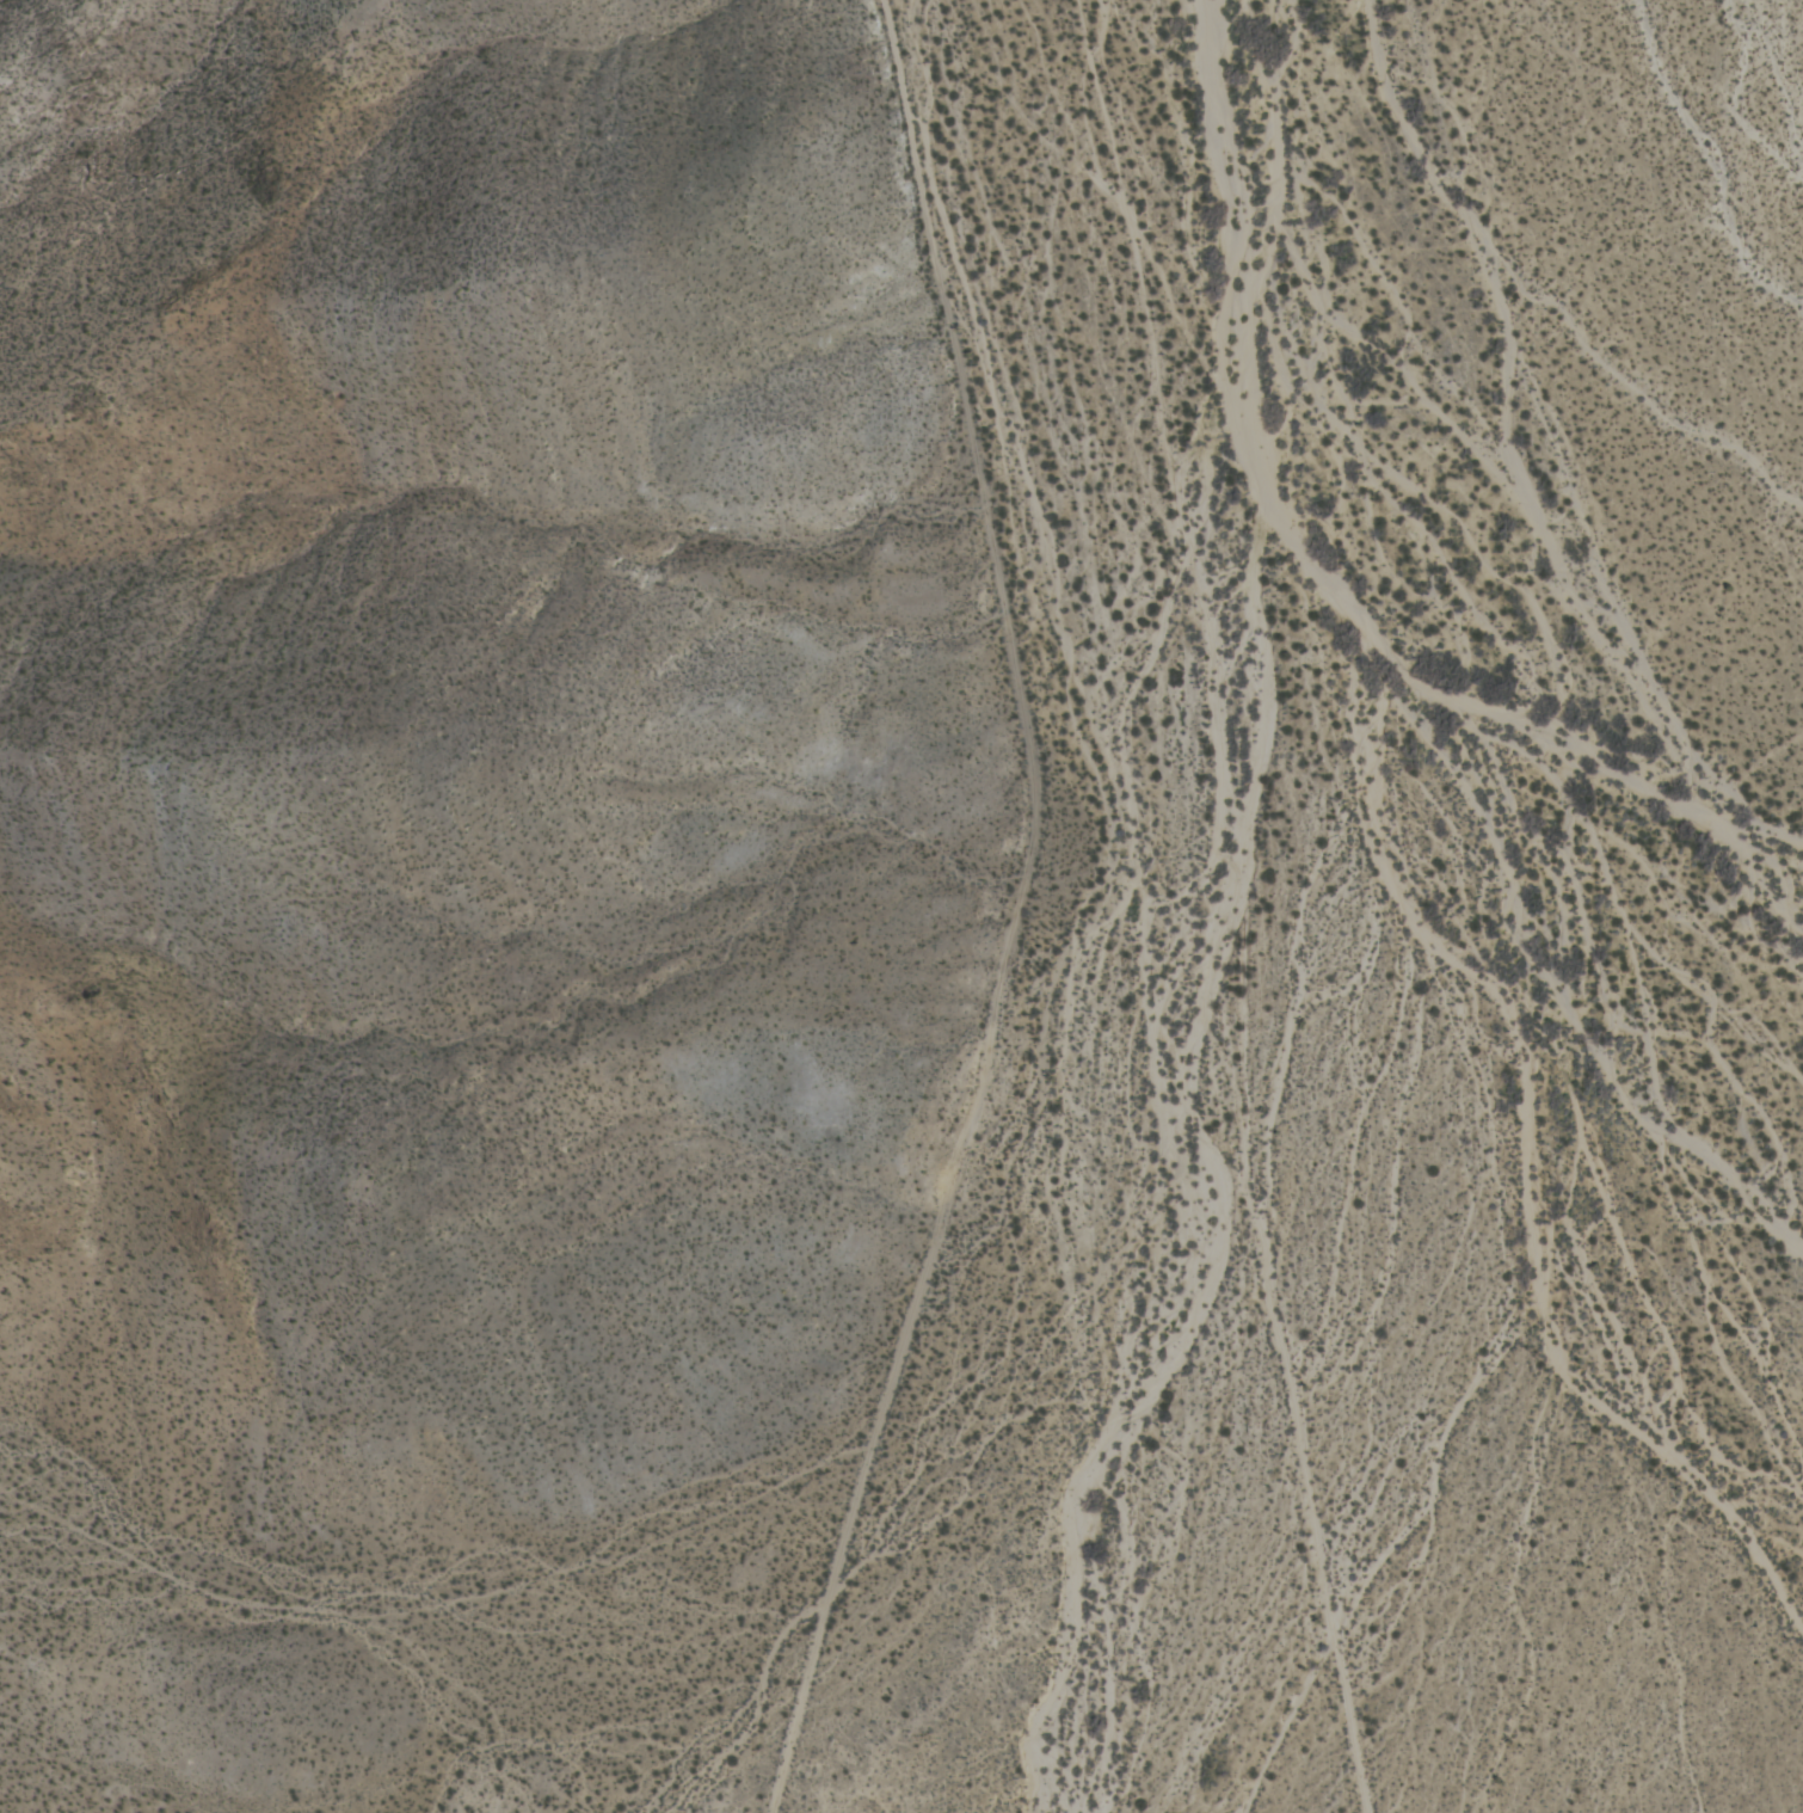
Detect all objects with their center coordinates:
road: (1019, 916)

